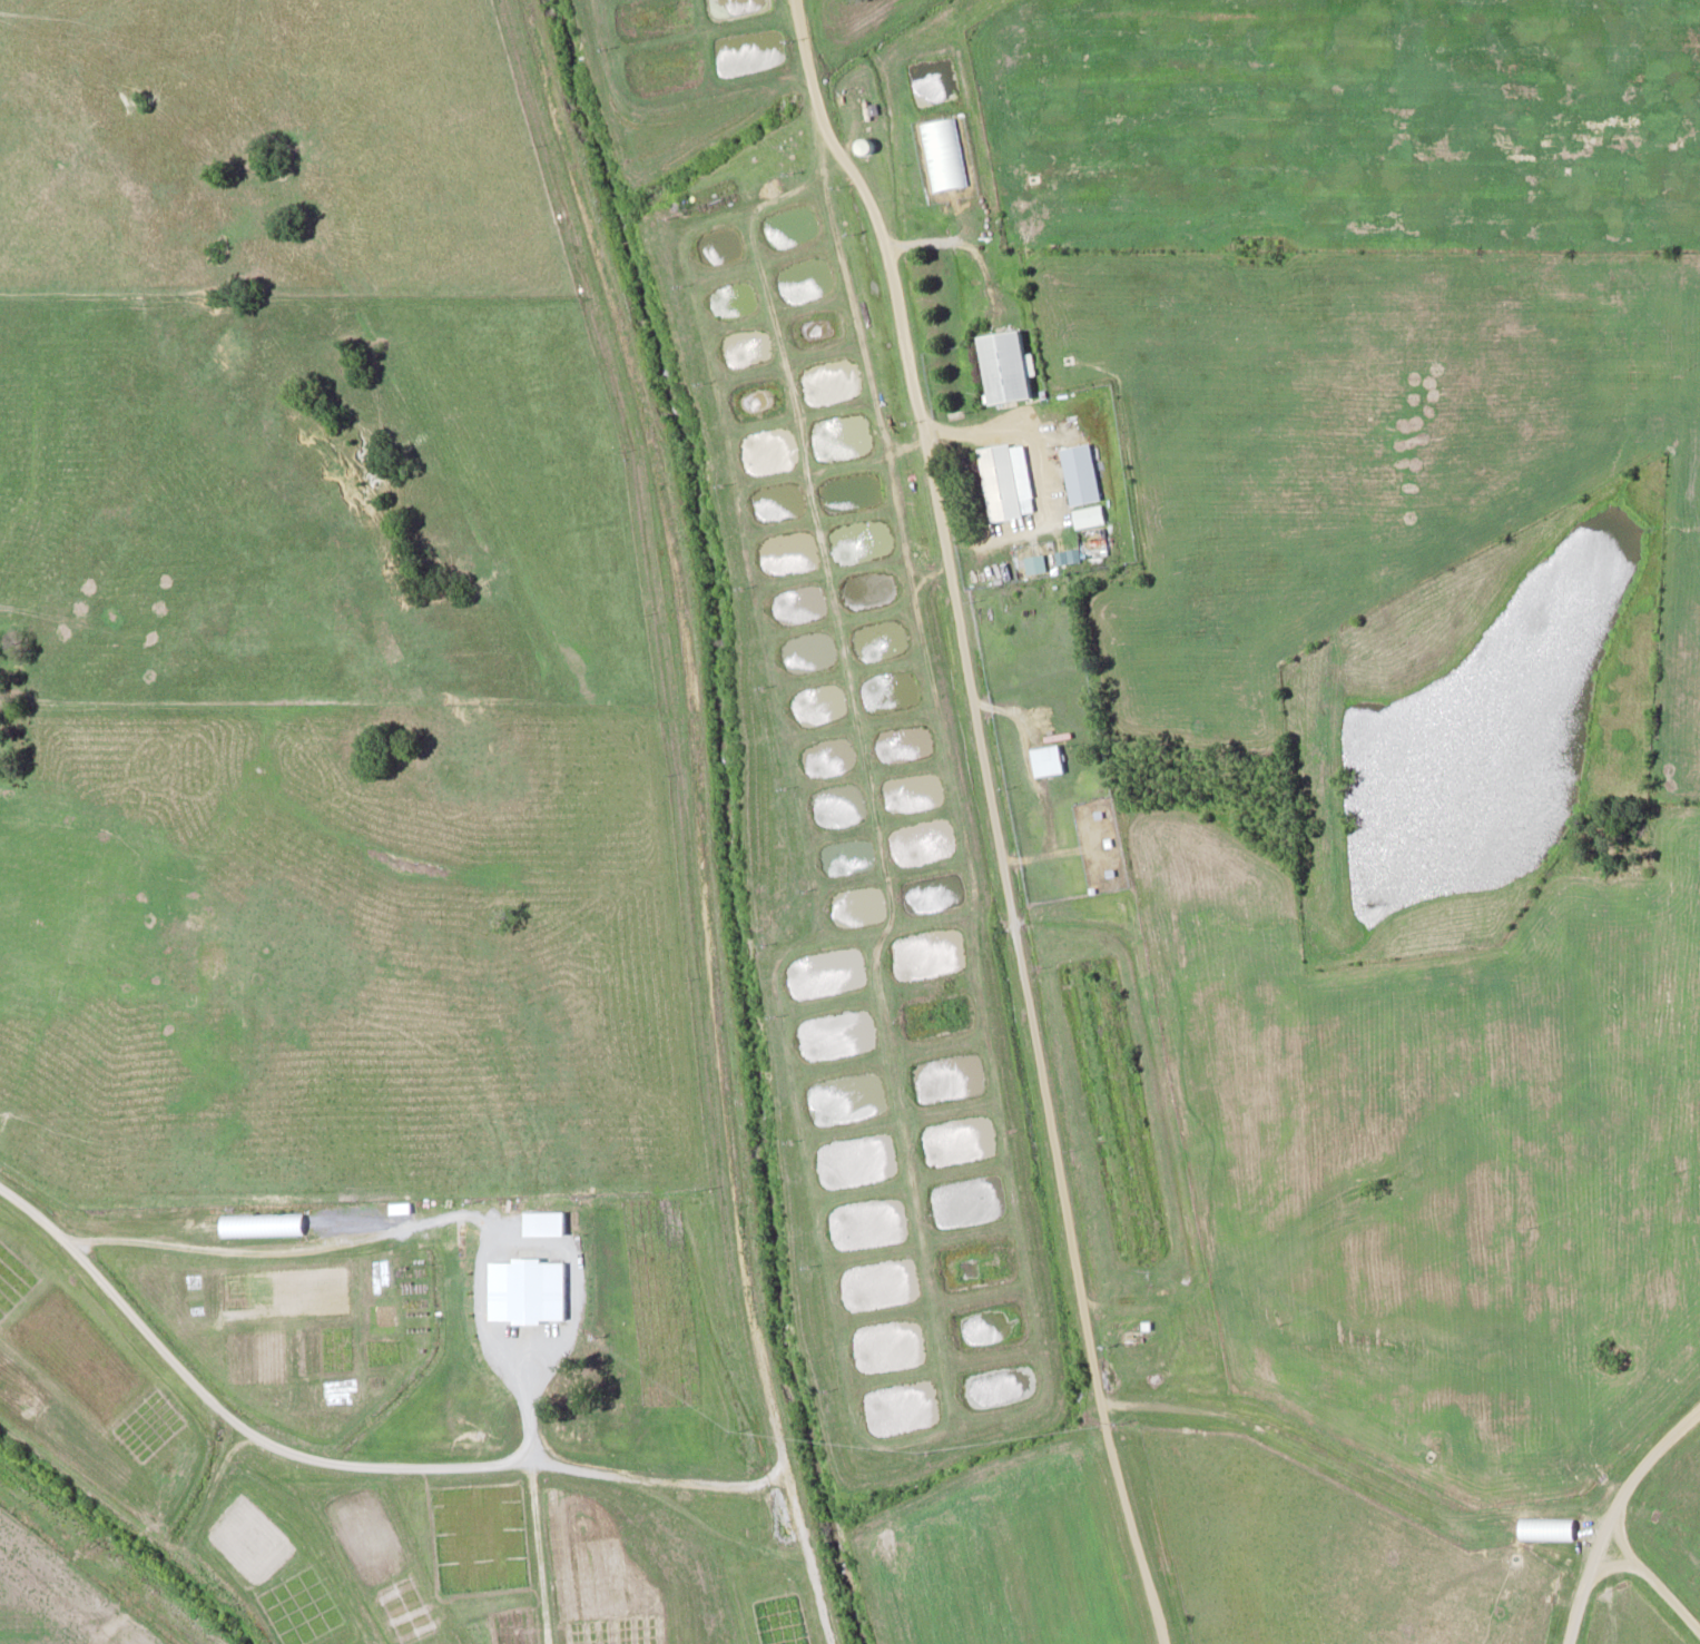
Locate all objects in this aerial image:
building: (942, 152)
building: (1002, 364)
building: (1078, 472)
building: (1004, 479)
building: (1087, 514)
road: (679, 737)
building: (1044, 758)
road: (989, 816)
building: (546, 1218)
building: (259, 1223)
building: (539, 1291)
building: (494, 1296)
road: (335, 1461)
road: (1641, 1471)
road: (797, 1519)
building: (1544, 1525)
road: (1652, 1577)
road: (1583, 1593)
road: (819, 1602)

